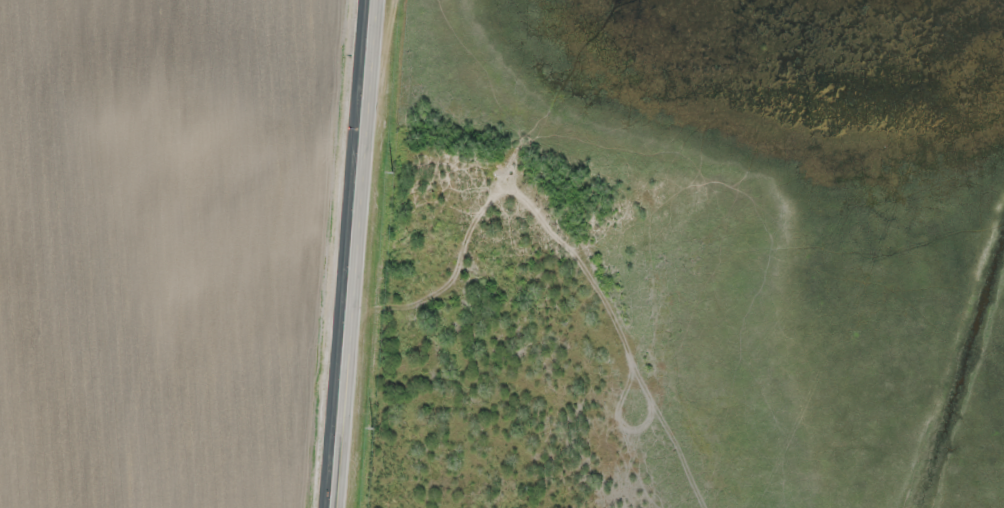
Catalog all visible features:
road: (355, 253)

